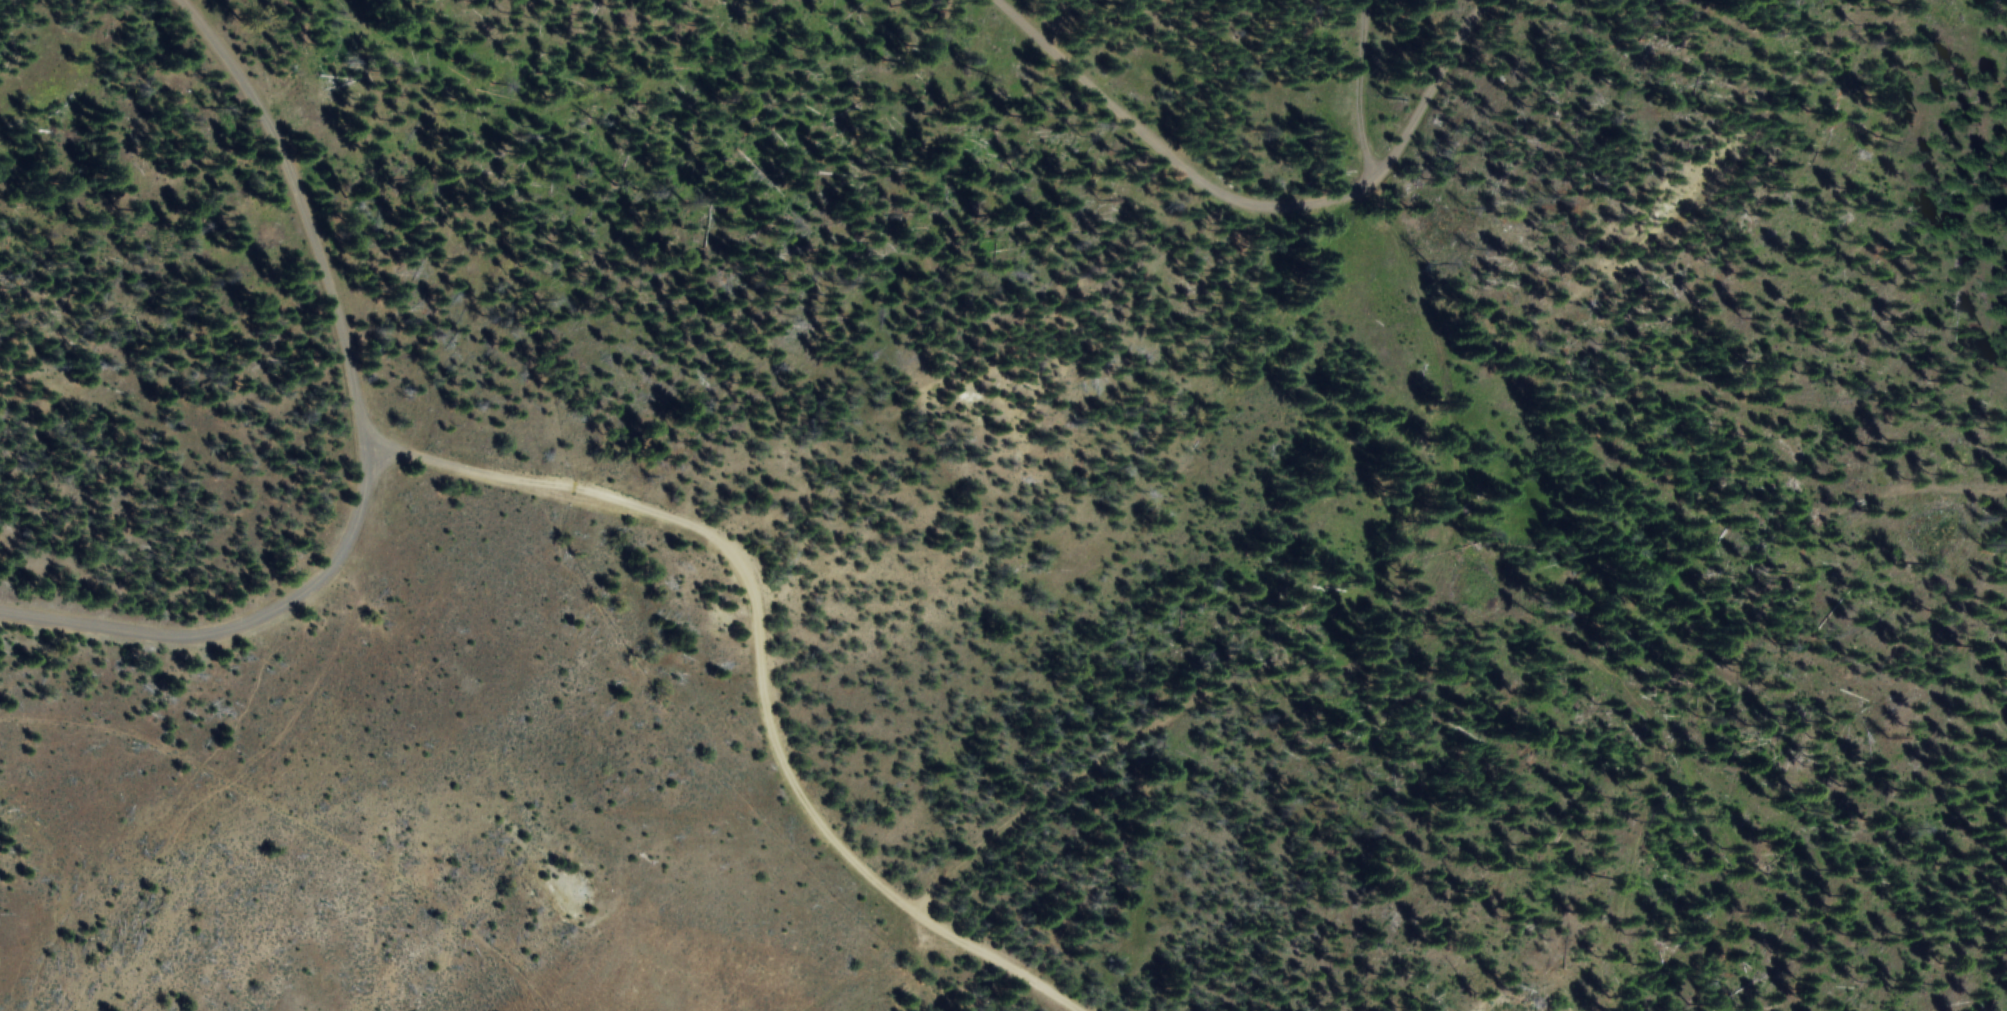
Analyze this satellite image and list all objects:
road: (1427, 86)
road: (1355, 87)
road: (1165, 152)
road: (360, 441)
road: (758, 658)
road: (1360, 658)
quarry: (1488, 1004)

